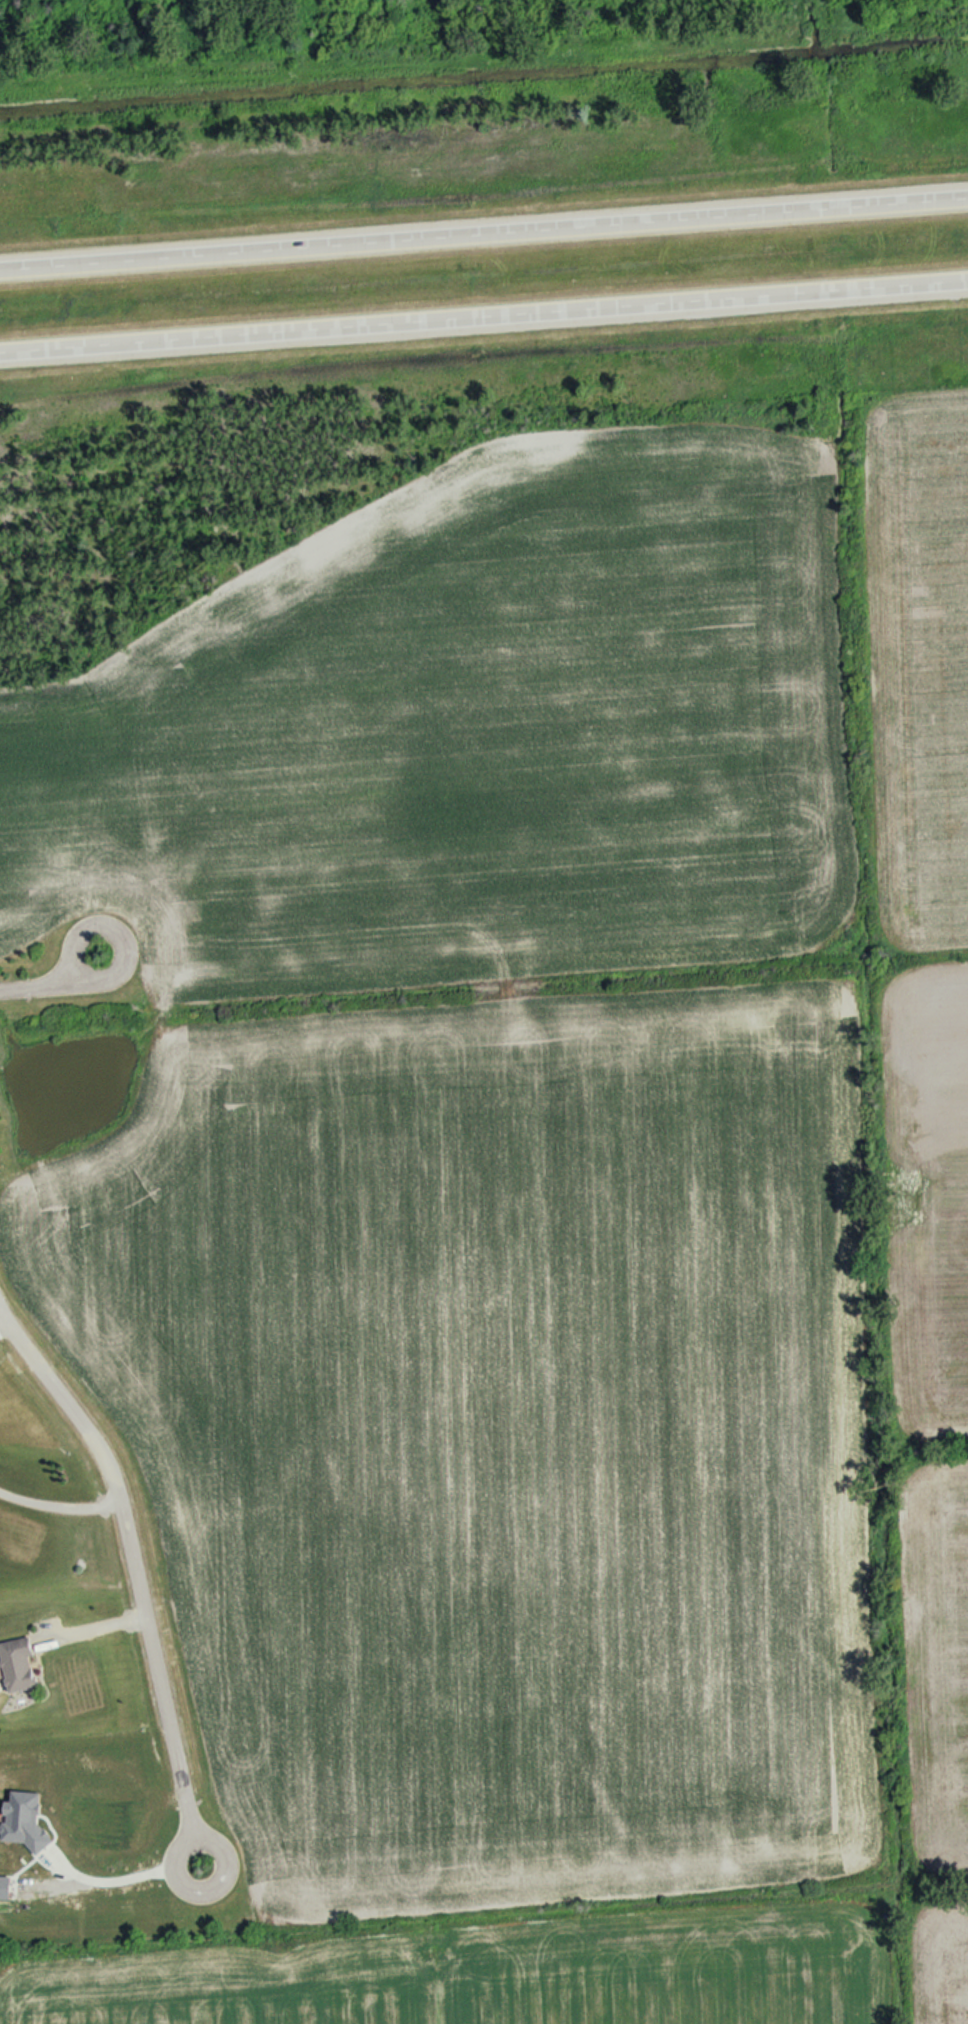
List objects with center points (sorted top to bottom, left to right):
road: (483, 231)
road: (484, 316)
road: (95, 924)
road: (44, 989)
road: (2, 1321)
road: (59, 1503)
road: (135, 1559)
road: (90, 1625)
building: (22, 1662)
road: (113, 1873)
road: (185, 1885)

